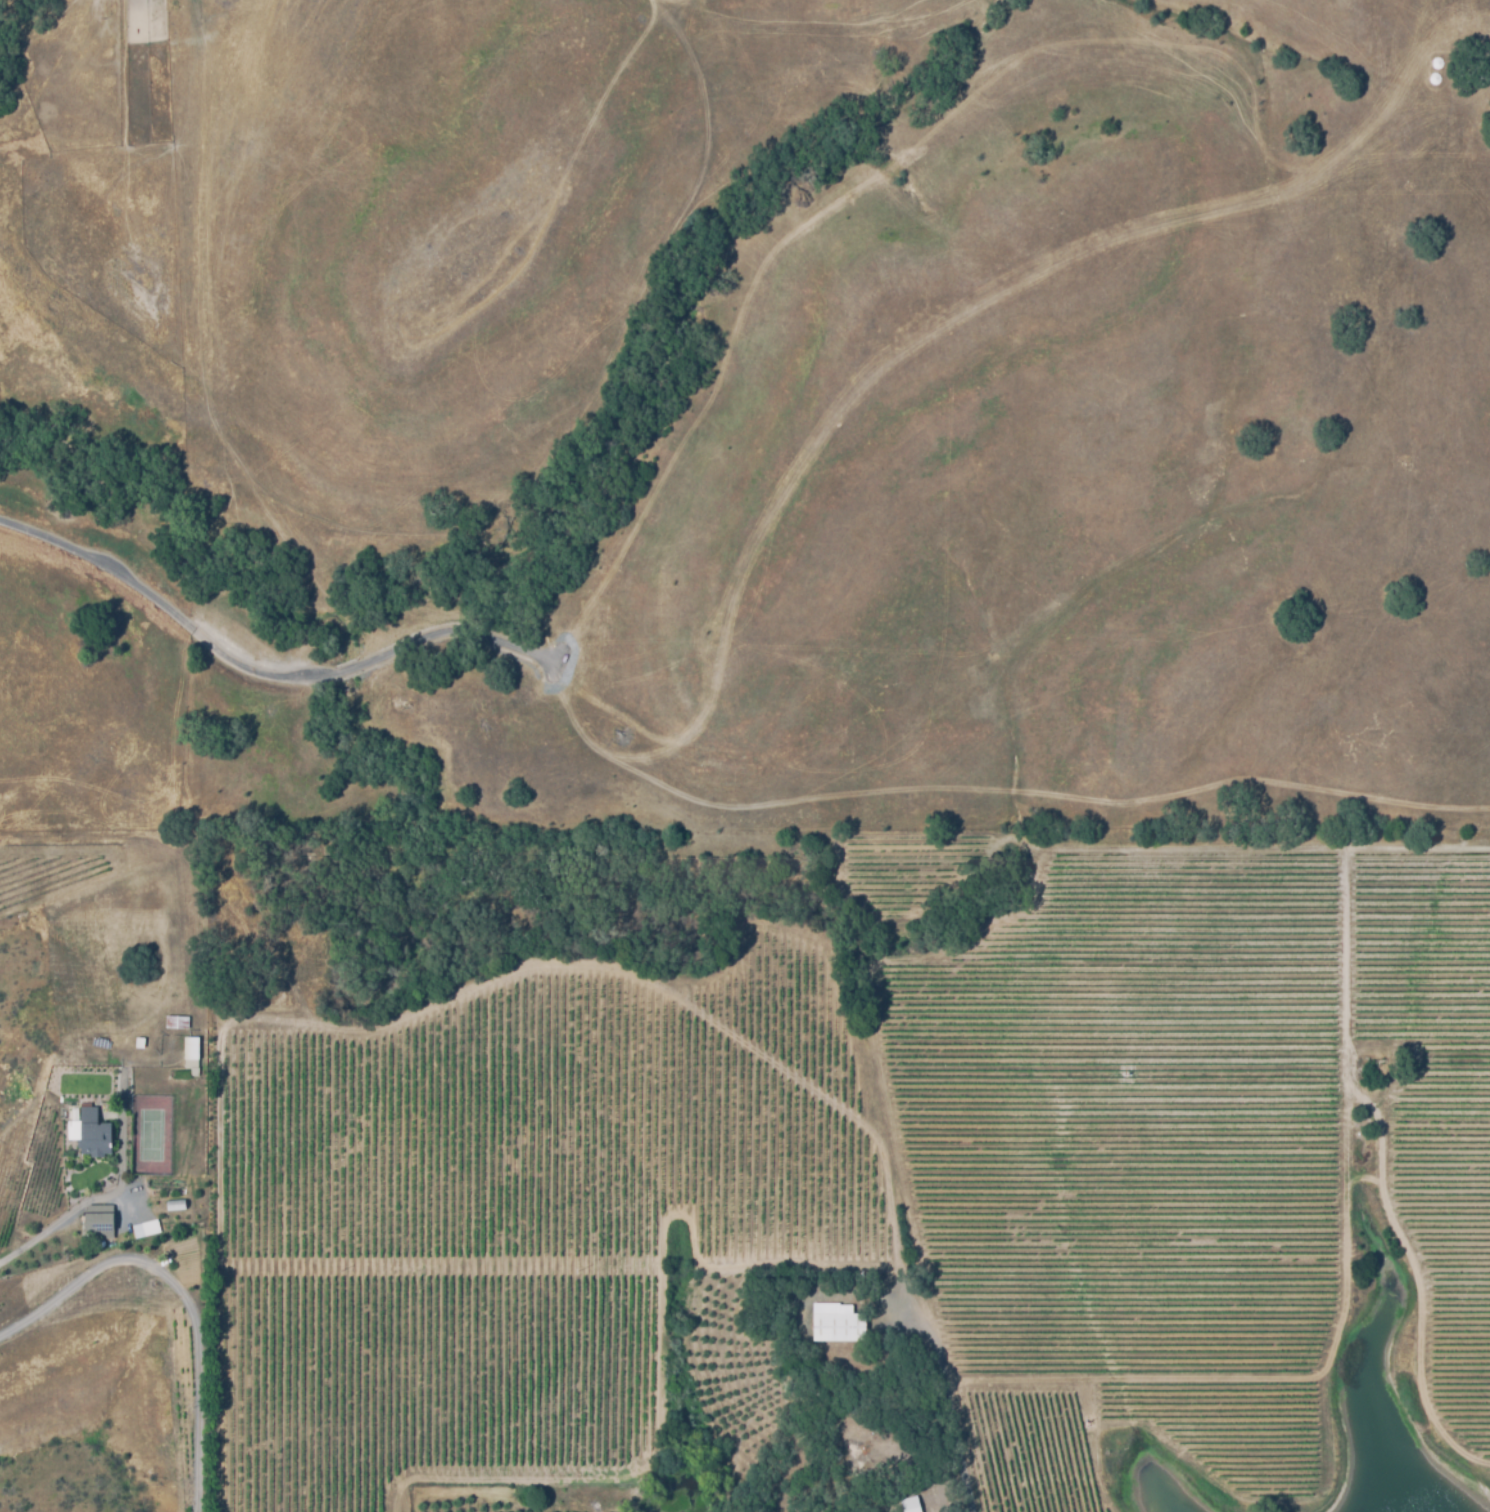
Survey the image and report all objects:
road: (165, 610)
road: (461, 635)
road: (348, 672)
building: (181, 1023)
building: (137, 1042)
building: (196, 1053)
building: (96, 1133)
building: (177, 1202)
building: (103, 1221)
road: (51, 1225)
building: (150, 1228)
road: (183, 1294)
building: (841, 1323)
road: (944, 1406)
building: (913, 1502)

